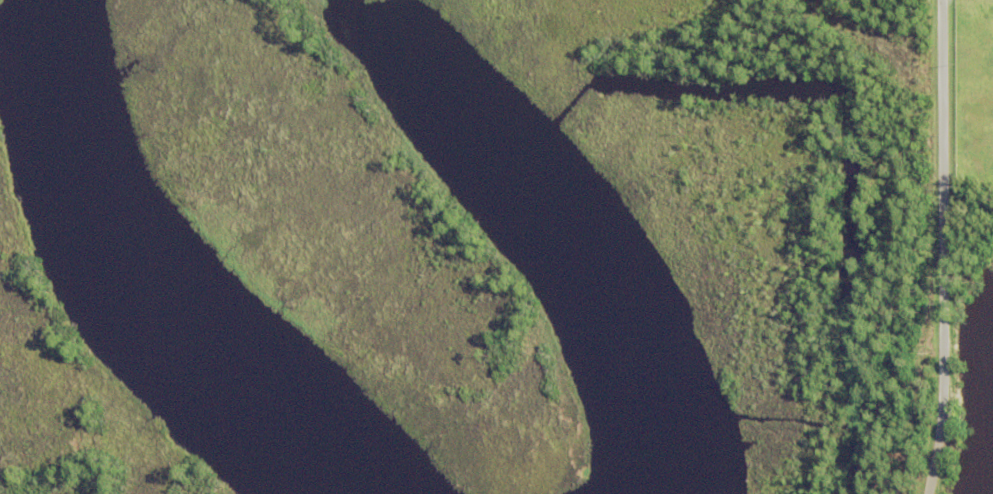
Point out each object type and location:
road: (943, 247)

